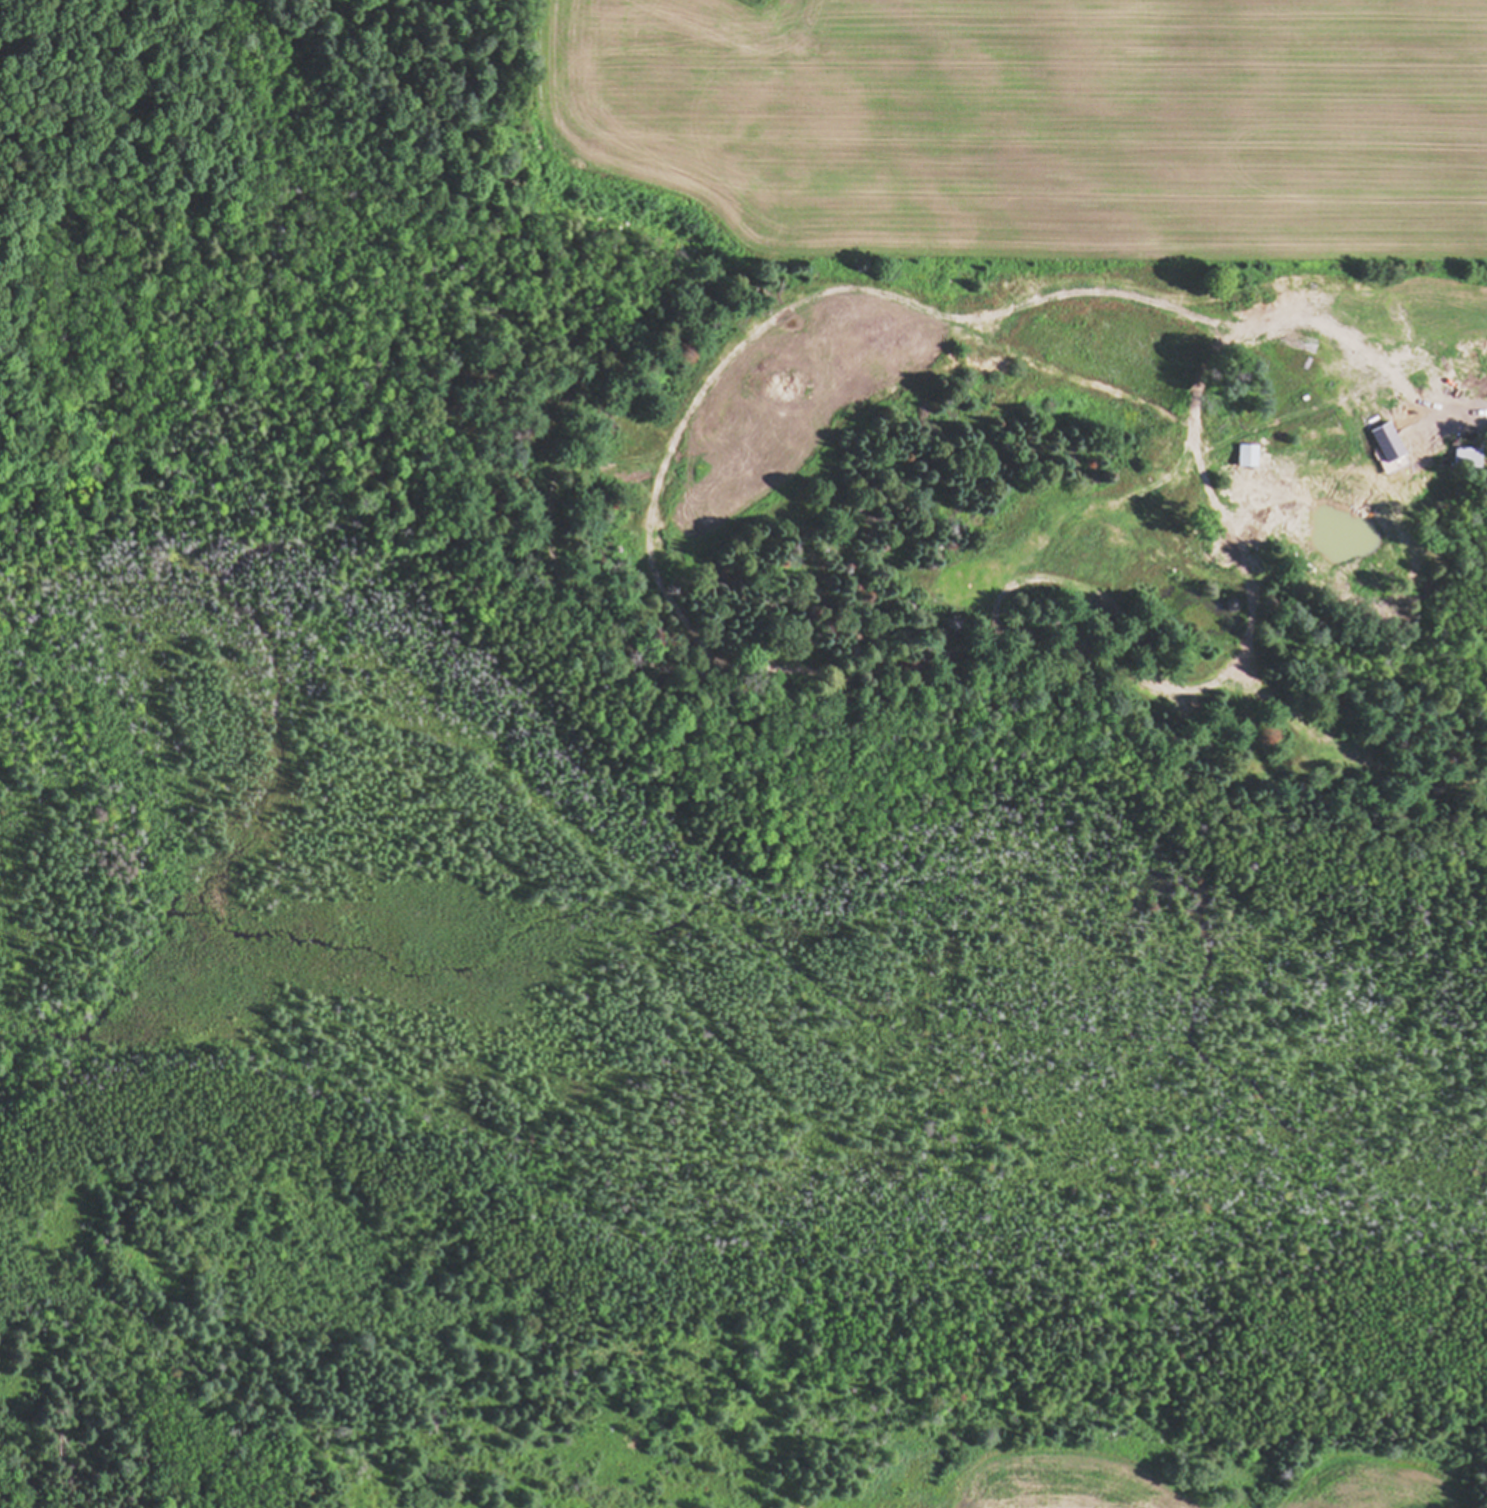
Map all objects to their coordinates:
building: (1238, 428)
building: (1393, 442)
building: (1251, 456)
building: (1468, 457)

